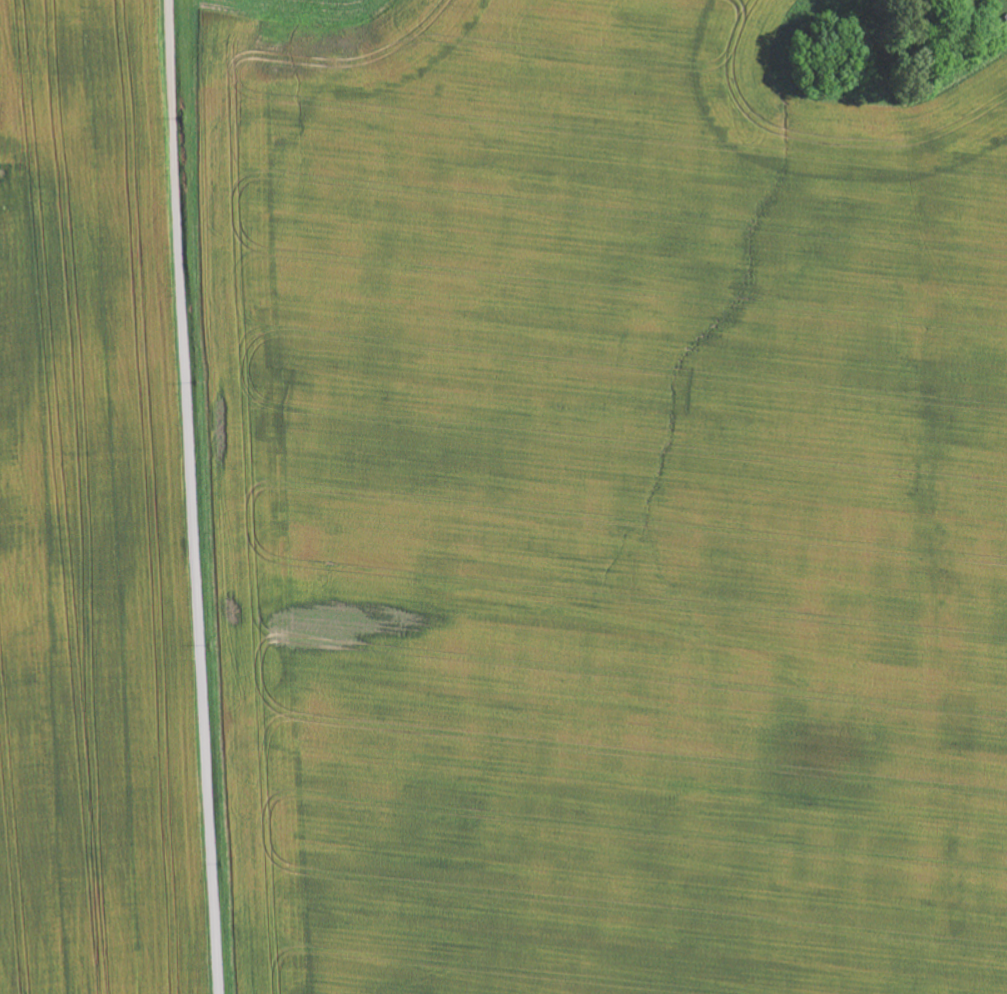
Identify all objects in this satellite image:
road: (193, 497)

